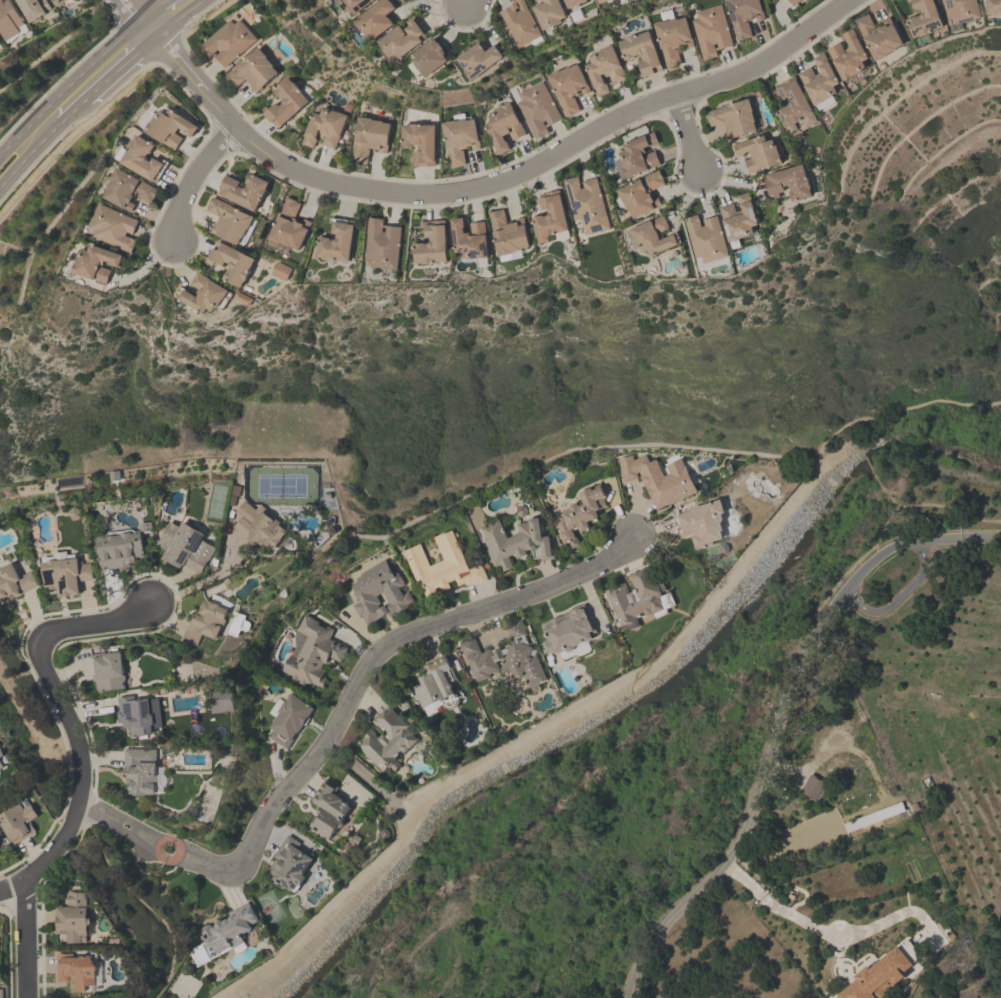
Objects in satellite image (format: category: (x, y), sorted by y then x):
building: (536, 0)
building: (780, 0)
building: (907, 0)
building: (600, 1)
building: (792, 1)
building: (572, 2)
building: (58, 3)
road: (462, 3)
building: (354, 5)
building: (992, 6)
building: (33, 8)
building: (960, 9)
road: (130, 10)
road: (152, 10)
building: (548, 12)
building: (743, 15)
building: (923, 17)
building: (374, 19)
road: (180, 20)
building: (10, 21)
building: (520, 23)
road: (146, 30)
building: (710, 30)
building: (877, 34)
building: (671, 38)
building: (401, 40)
building: (226, 41)
building: (0, 42)
building: (640, 52)
building: (847, 55)
building: (428, 56)
building: (478, 59)
building: (602, 68)
road: (120, 70)
building: (251, 70)
building: (818, 79)
building: (566, 86)
road: (68, 87)
building: (284, 101)
building: (792, 104)
building: (536, 108)
road: (72, 111)
building: (733, 116)
building: (502, 126)
building: (169, 127)
building: (324, 127)
road: (686, 134)
building: (368, 137)
building: (458, 139)
building: (419, 142)
building: (757, 152)
building: (637, 154)
road: (29, 155)
building: (141, 158)
road: (192, 181)
road: (495, 181)
building: (788, 182)
building: (128, 189)
building: (242, 190)
building: (640, 194)
building: (586, 204)
building: (548, 216)
building: (737, 218)
building: (227, 220)
building: (112, 227)
building: (286, 227)
building: (507, 233)
building: (651, 235)
building: (704, 238)
building: (468, 239)
building: (335, 242)
building: (381, 243)
building: (431, 243)
building: (230, 262)
building: (94, 263)
building: (280, 271)
building: (203, 294)
building: (241, 298)
building: (657, 478)
road: (901, 498)
building: (578, 514)
building: (702, 523)
building: (257, 526)
building: (514, 542)
building: (183, 546)
building: (118, 549)
road: (920, 552)
building: (441, 565)
building: (63, 574)
building: (14, 582)
road: (197, 585)
building: (378, 592)
road: (901, 592)
building: (638, 597)
road: (858, 602)
building: (205, 622)
building: (567, 629)
building: (310, 651)
building: (504, 657)
road: (370, 662)
building: (106, 671)
building: (435, 683)
road: (618, 683)
road: (61, 711)
building: (134, 715)
road: (779, 719)
building: (288, 720)
building: (386, 739)
building: (827, 753)
building: (1, 754)
building: (1, 765)
building: (139, 771)
road: (360, 775)
building: (327, 809)
road: (404, 813)
road: (112, 819)
building: (16, 822)
road: (173, 840)
road: (166, 858)
building: (288, 864)
road: (10, 886)
road: (141, 902)
building: (71, 918)
building: (227, 930)
road: (834, 933)
road: (26, 938)
building: (74, 971)
building: (881, 974)
building: (0, 993)

